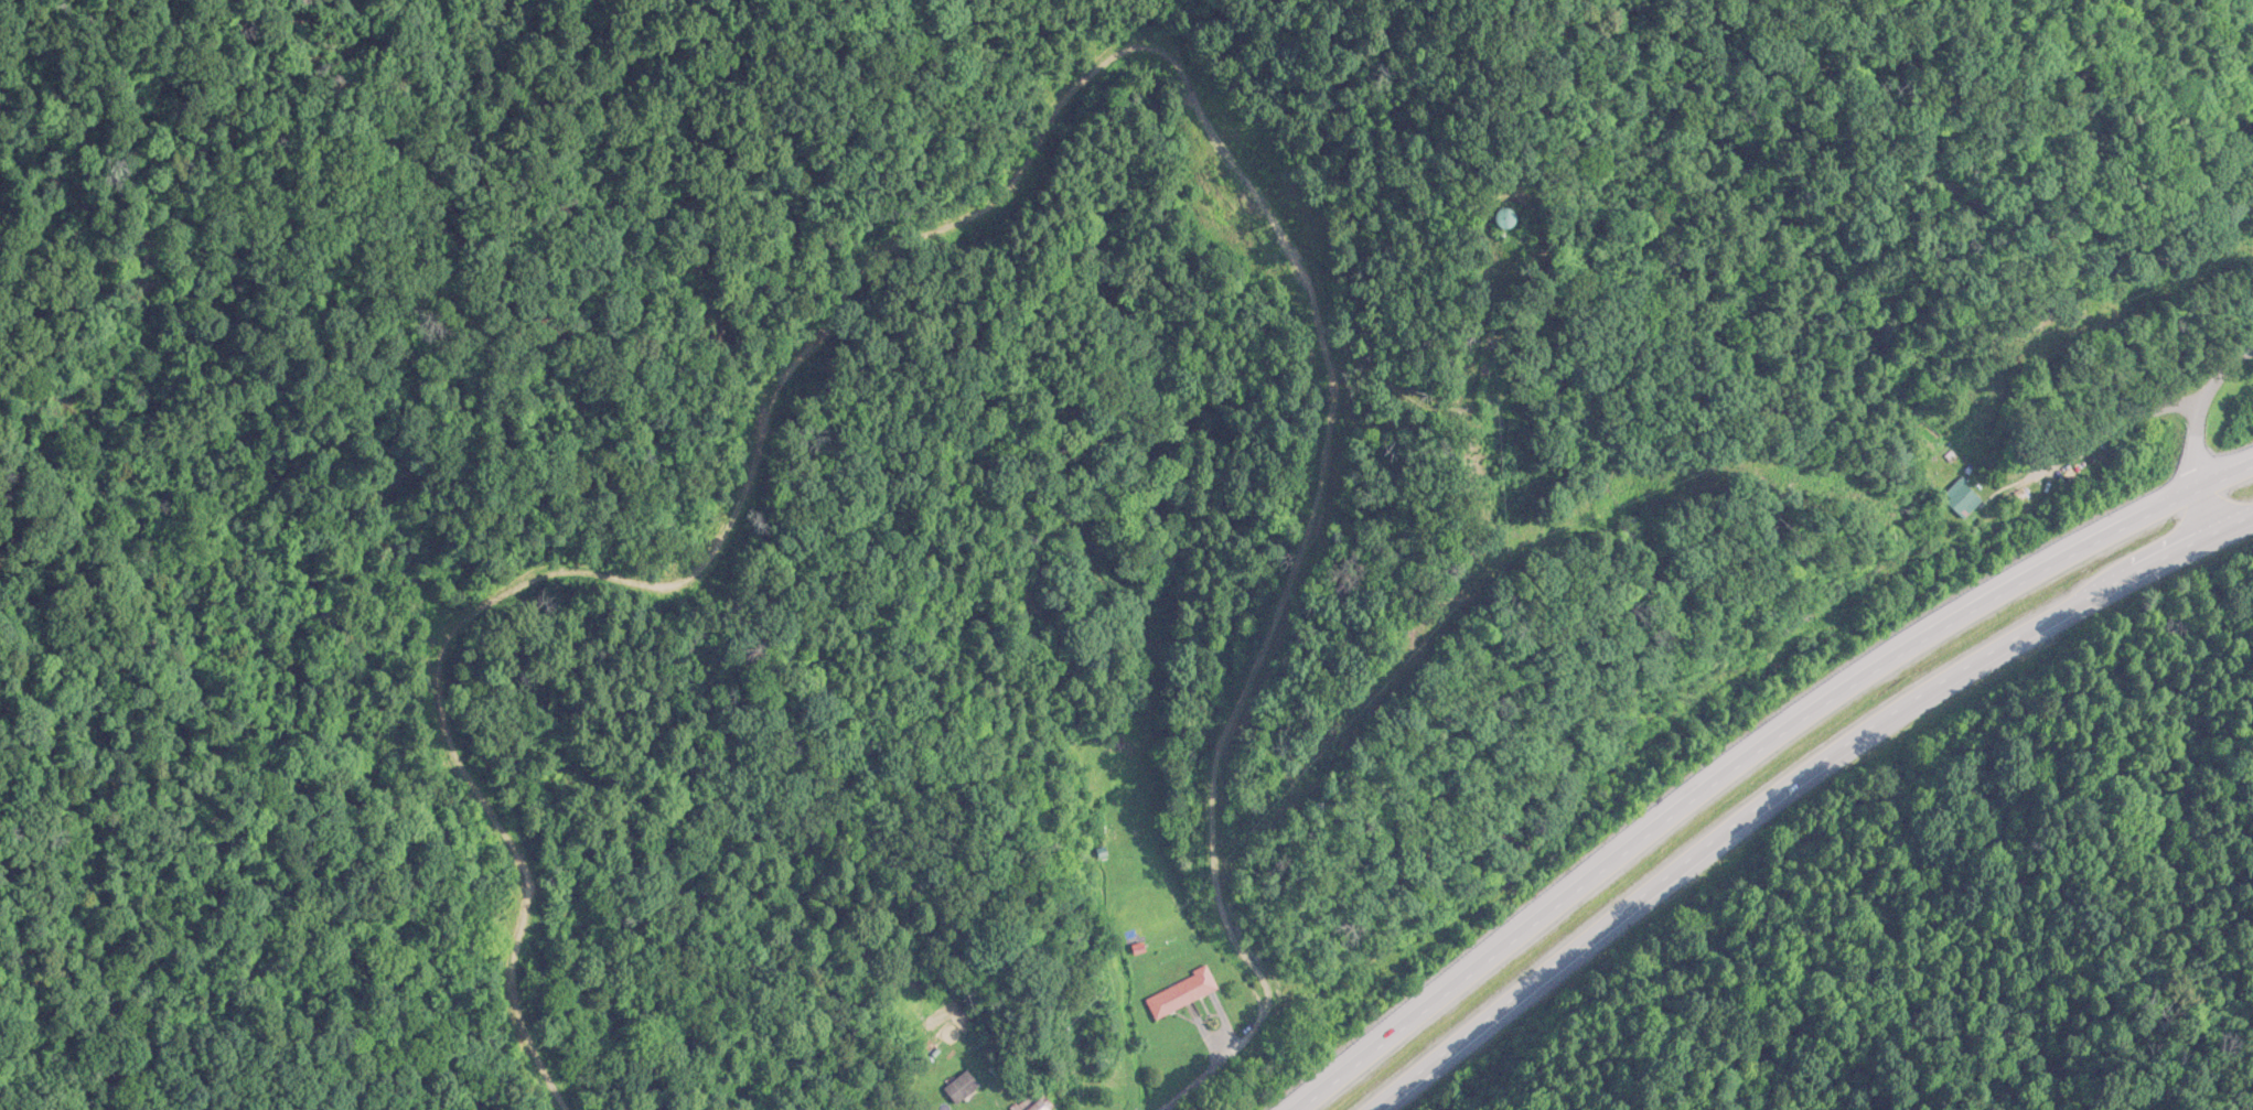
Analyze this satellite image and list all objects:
road: (2198, 429)
building: (1962, 500)
road: (1755, 755)
road: (1793, 783)
building: (1181, 994)
road: (1217, 1053)
building: (1031, 1103)

